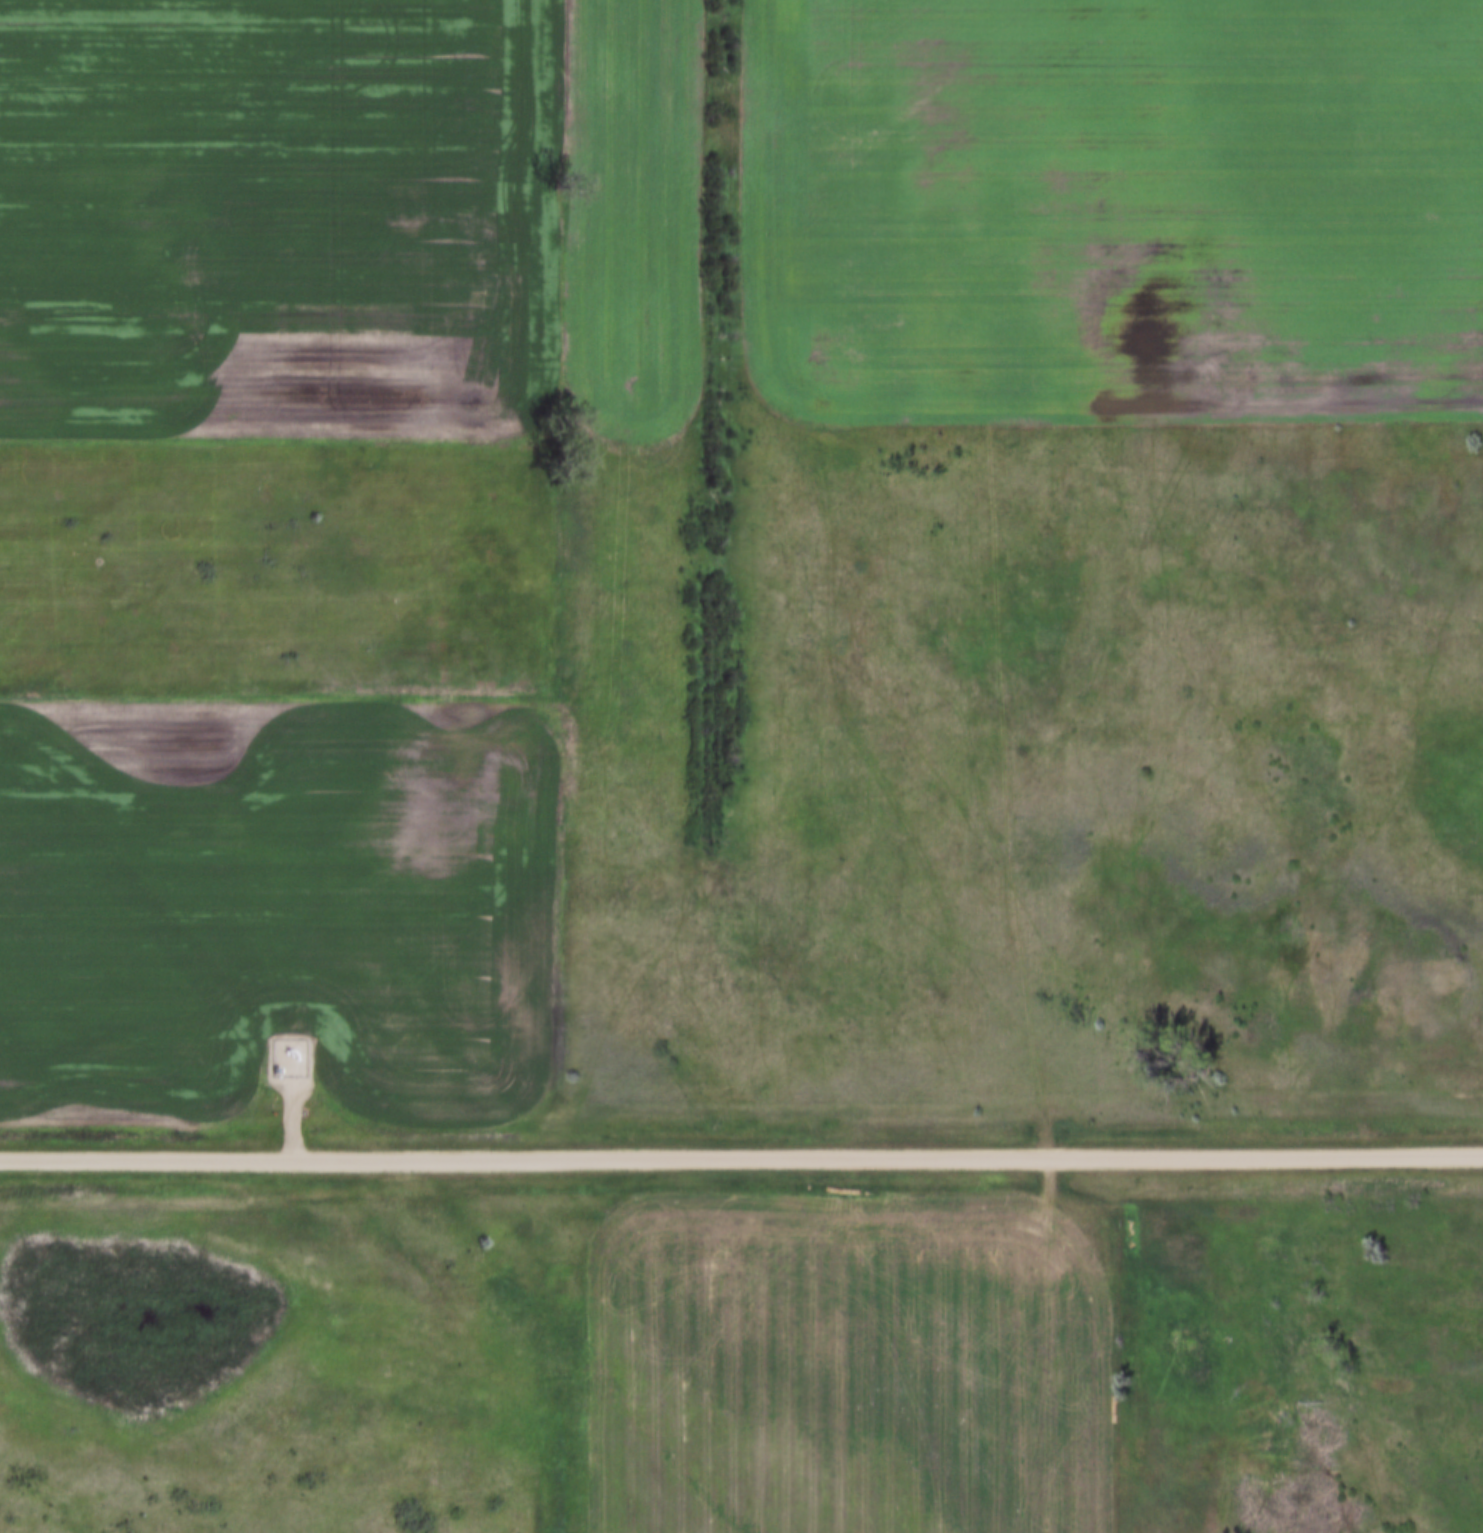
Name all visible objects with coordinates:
road: (741, 1152)

